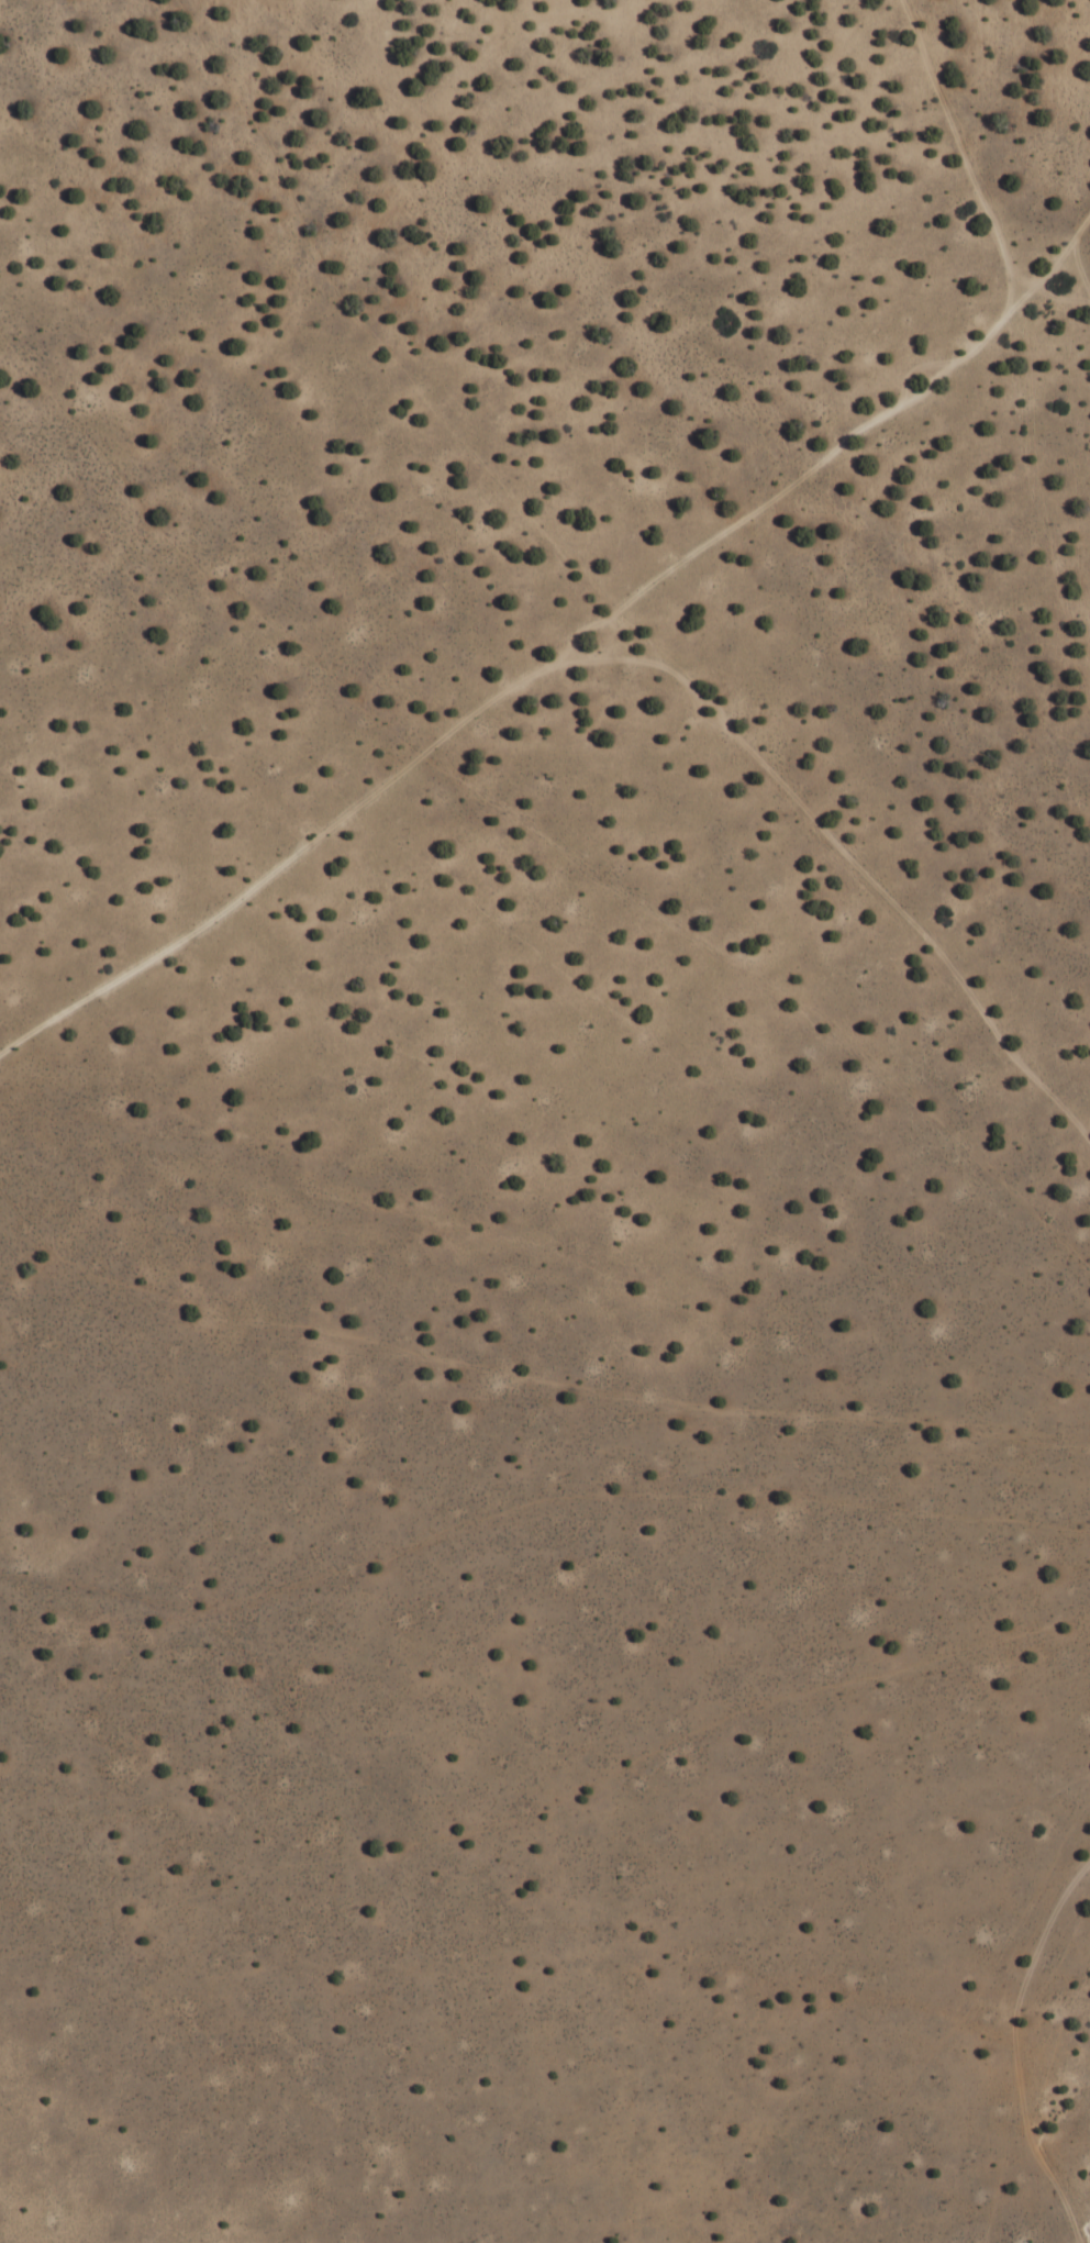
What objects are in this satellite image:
road: (923, 157)
road: (570, 656)
road: (1016, 2054)

